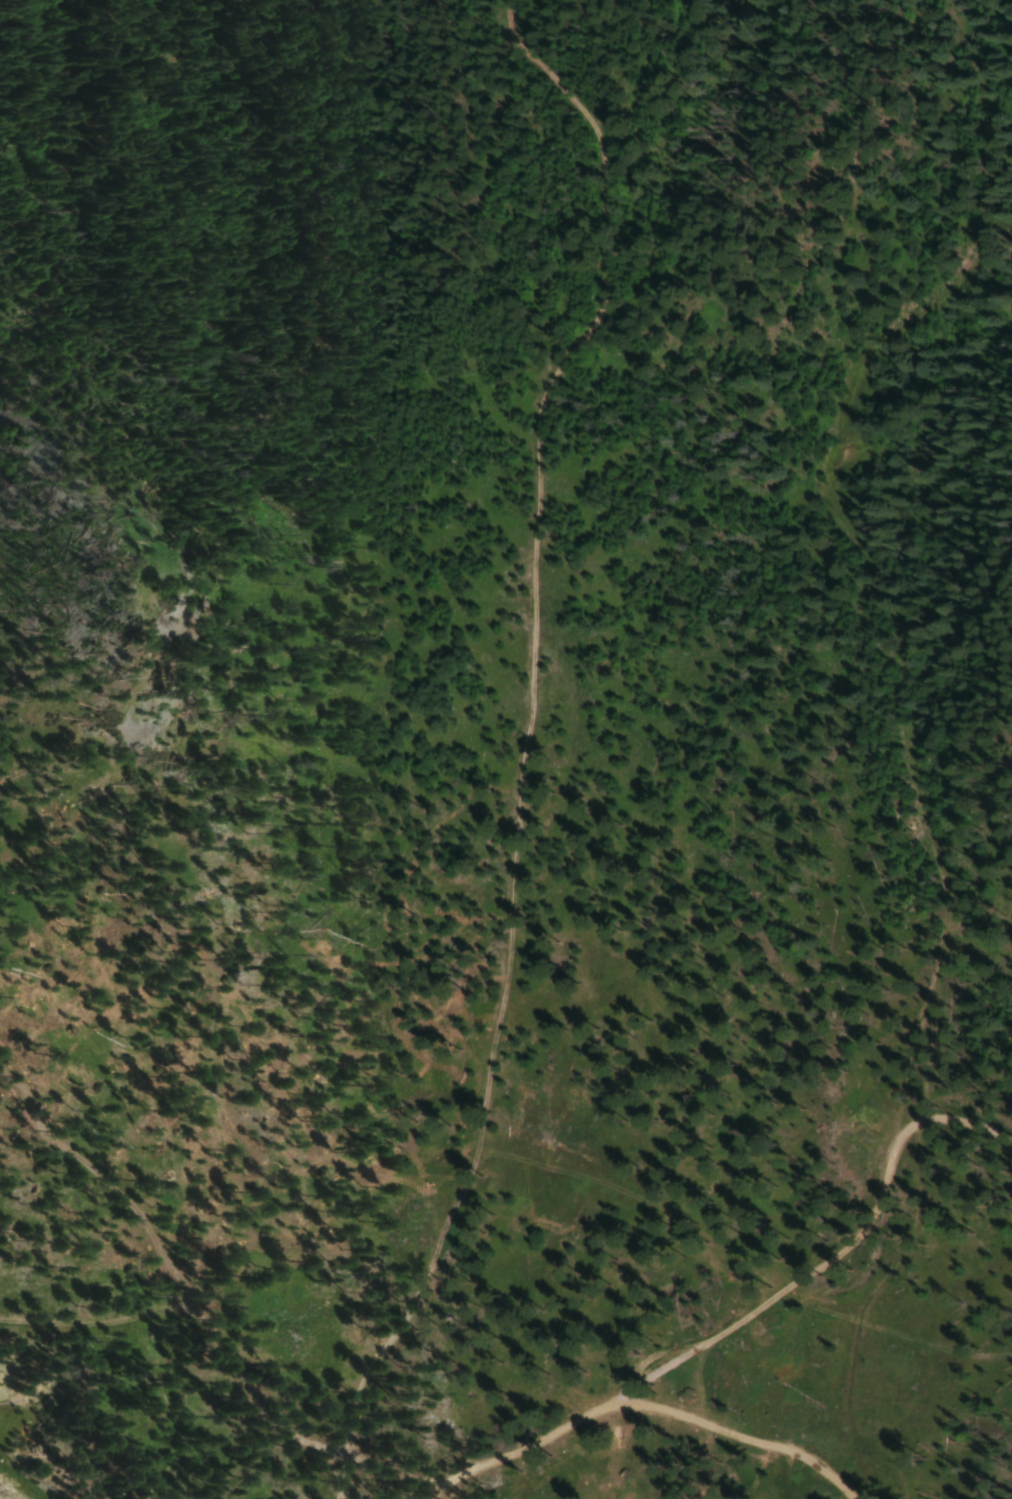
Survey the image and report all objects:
road: (522, 742)
road: (847, 1253)
road: (643, 1398)

